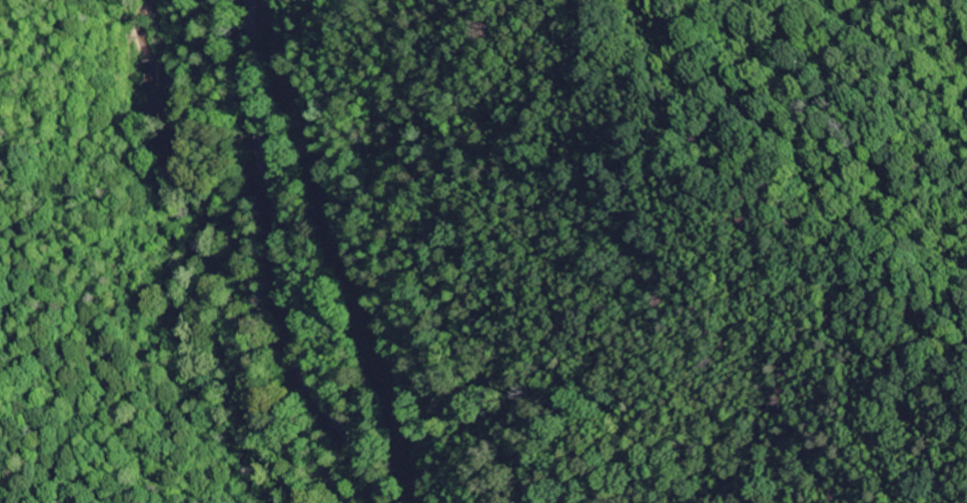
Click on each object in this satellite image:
road: (281, 262)

